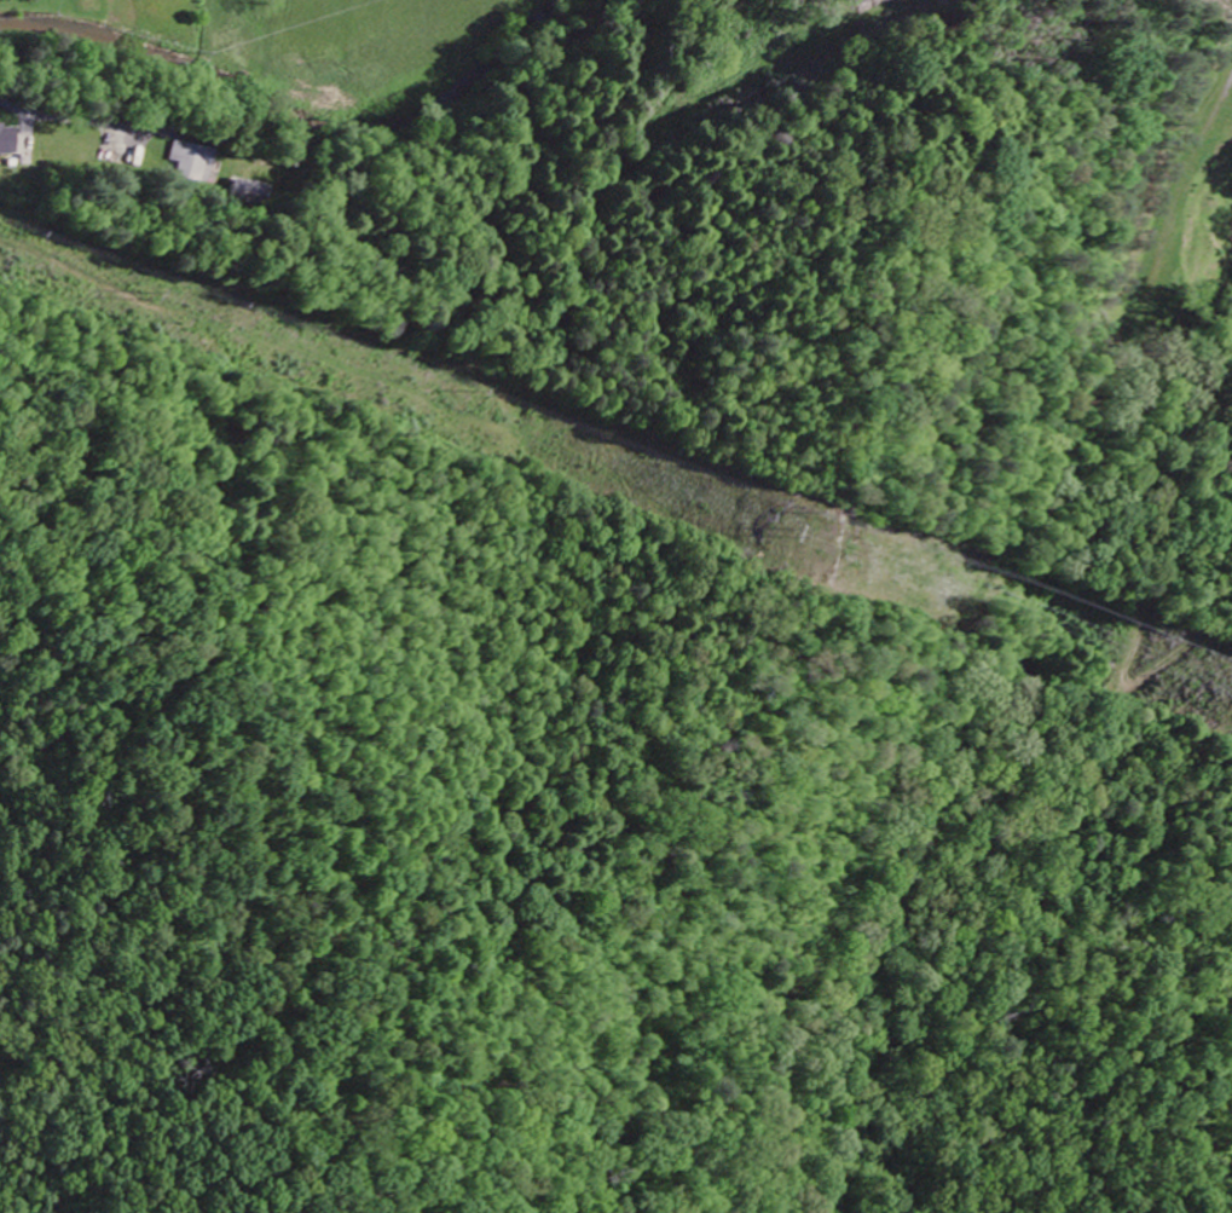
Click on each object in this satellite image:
road: (5, 109)
building: (6, 143)
building: (191, 164)
road: (1146, 603)

